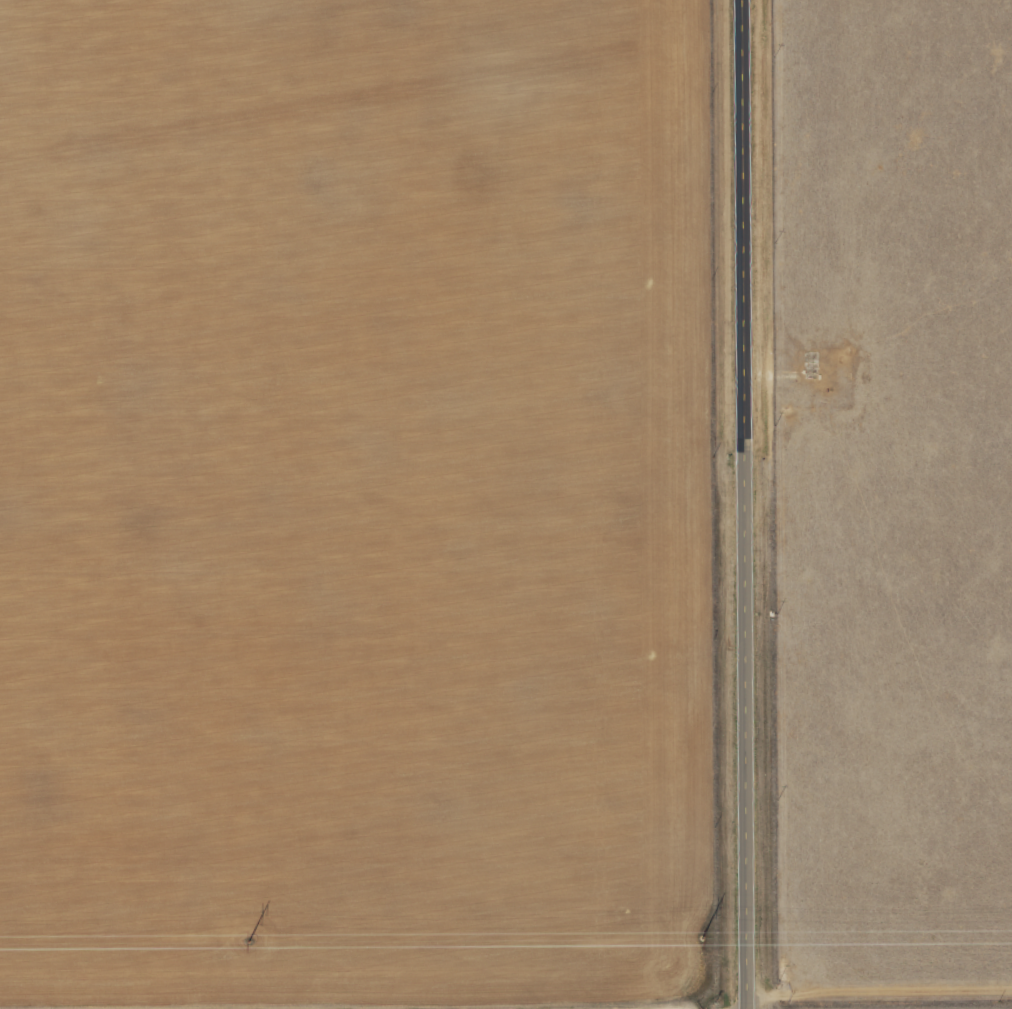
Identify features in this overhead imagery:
road: (743, 426)
road: (746, 930)
power tower: (699, 937)
power tower: (246, 942)
road: (878, 989)

